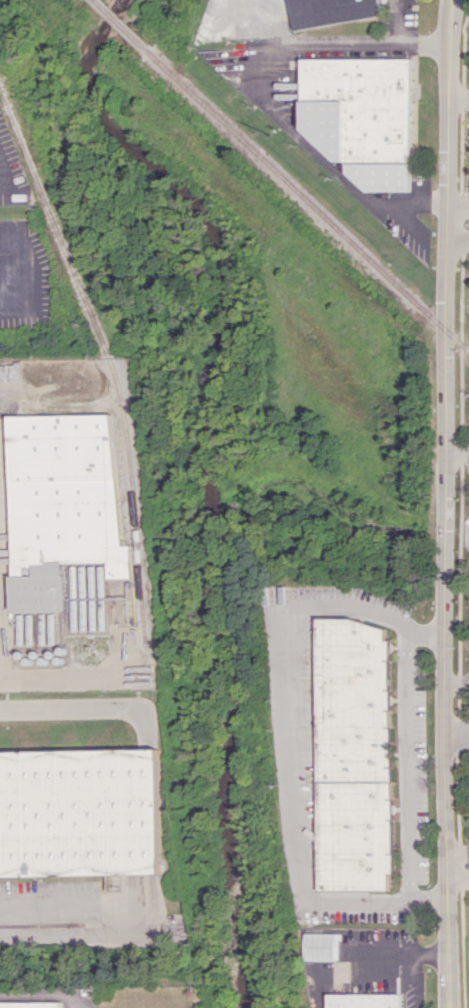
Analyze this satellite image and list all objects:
building: (327, 11)
road: (268, 20)
road: (397, 21)
road: (449, 22)
railway: (121, 25)
road: (253, 91)
road: (458, 97)
building: (356, 115)
railway: (308, 202)
road: (457, 208)
road: (457, 238)
road: (8, 274)
railway: (91, 312)
road: (6, 394)
road: (457, 448)
building: (62, 504)
road: (445, 526)
building: (86, 596)
road: (338, 607)
road: (425, 631)
road: (62, 676)
road: (458, 684)
road: (84, 705)
road: (457, 736)
building: (354, 755)
building: (80, 812)
road: (458, 867)
building: (105, 884)
road: (353, 899)
road: (425, 900)
road: (139, 919)
building: (319, 946)
road: (412, 964)
road: (44, 994)
building: (362, 1001)
building: (31, 1005)

